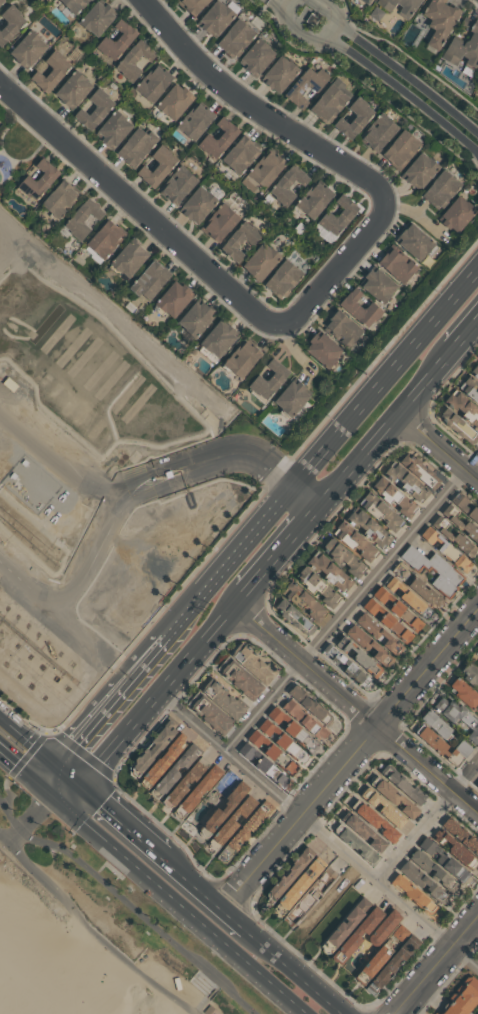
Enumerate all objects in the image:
building: (445, 0)
building: (1, 1)
building: (83, 1)
building: (365, 2)
building: (69, 5)
building: (191, 5)
building: (407, 9)
building: (94, 18)
building: (214, 19)
building: (439, 19)
building: (9, 22)
building: (234, 37)
building: (115, 40)
building: (464, 45)
building: (25, 49)
building: (255, 58)
building: (132, 60)
road: (393, 68)
building: (48, 70)
road: (376, 71)
building: (277, 75)
building: (152, 84)
building: (304, 86)
building: (71, 90)
building: (329, 101)
building: (172, 102)
road: (258, 108)
building: (92, 109)
building: (352, 119)
building: (194, 122)
building: (112, 128)
building: (378, 132)
building: (217, 139)
building: (135, 147)
building: (400, 150)
building: (239, 154)
building: (156, 167)
building: (262, 171)
building: (419, 171)
building: (35, 181)
building: (177, 185)
building: (286, 185)
building: (439, 189)
building: (57, 201)
building: (313, 201)
building: (196, 205)
road: (139, 206)
building: (456, 215)
building: (336, 217)
building: (81, 220)
building: (218, 224)
building: (104, 239)
building: (239, 240)
building: (416, 243)
building: (127, 258)
building: (259, 262)
road: (342, 267)
building: (397, 267)
building: (282, 278)
building: (148, 280)
building: (376, 286)
building: (172, 299)
building: (358, 309)
building: (195, 319)
building: (340, 329)
road: (464, 334)
building: (217, 339)
building: (322, 351)
building: (241, 360)
road: (385, 370)
building: (473, 372)
building: (268, 381)
building: (15, 384)
building: (469, 389)
building: (291, 400)
building: (462, 408)
road: (386, 425)
building: (457, 425)
road: (438, 446)
road: (245, 453)
road: (56, 461)
road: (157, 466)
building: (420, 469)
building: (407, 481)
road: (165, 485)
road: (307, 490)
building: (394, 496)
building: (465, 505)
building: (380, 511)
building: (461, 522)
building: (369, 527)
building: (456, 536)
building: (355, 540)
building: (445, 548)
road: (97, 550)
road: (281, 553)
road: (226, 555)
building: (344, 555)
building: (329, 570)
building: (433, 570)
road: (28, 581)
building: (317, 586)
building: (408, 597)
building: (305, 600)
road: (352, 604)
building: (398, 609)
building: (295, 616)
building: (388, 620)
building: (379, 632)
building: (370, 644)
building: (360, 656)
building: (476, 658)
building: (257, 664)
building: (349, 666)
building: (470, 672)
building: (245, 680)
road: (82, 687)
building: (465, 692)
road: (162, 693)
road: (108, 694)
building: (227, 699)
building: (311, 703)
road: (357, 710)
building: (214, 714)
building: (280, 715)
building: (457, 715)
building: (308, 720)
building: (437, 722)
road: (194, 723)
building: (271, 727)
road: (27, 732)
building: (302, 735)
building: (260, 739)
building: (284, 740)
building: (441, 747)
building: (157, 748)
building: (251, 751)
traffic signals: (55, 756)
road: (352, 757)
building: (166, 759)
building: (277, 764)
road: (70, 768)
road: (26, 771)
building: (177, 771)
road: (54, 775)
traffic signals: (85, 781)
building: (476, 781)
building: (182, 785)
building: (404, 785)
road: (69, 788)
building: (202, 788)
traffic signals: (53, 795)
building: (397, 798)
building: (227, 807)
building: (385, 808)
road: (39, 814)
road: (126, 816)
building: (233, 819)
building: (378, 822)
road: (428, 823)
building: (251, 825)
building: (366, 832)
road: (15, 834)
building: (461, 837)
road: (39, 839)
building: (359, 845)
building: (453, 849)
road: (352, 859)
building: (442, 860)
building: (292, 872)
building: (432, 872)
building: (301, 884)
building: (423, 884)
road: (210, 887)
building: (312, 895)
building: (413, 895)
road: (180, 904)
building: (348, 925)
building: (385, 927)
road: (90, 931)
building: (358, 936)
road: (173, 941)
building: (12, 948)
building: (381, 954)
building: (392, 965)
road: (437, 966)
road: (304, 968)
building: (463, 998)
building: (212, 1010)

